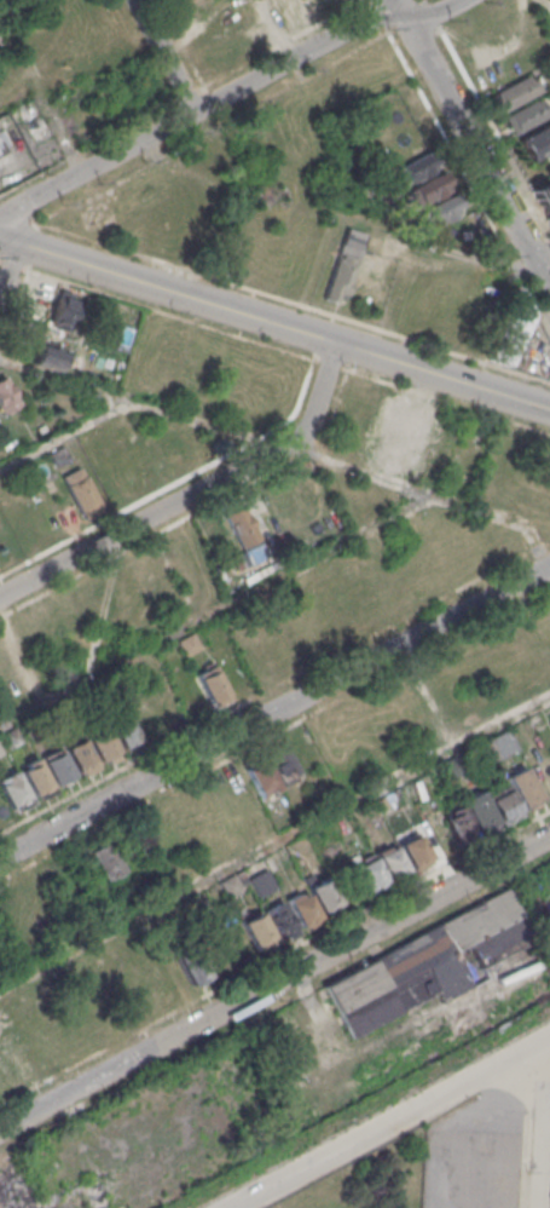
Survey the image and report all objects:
building: (169, 1)
road: (396, 1)
road: (369, 4)
road: (433, 12)
road: (543, 13)
road: (404, 15)
road: (376, 16)
road: (277, 28)
road: (162, 57)
building: (511, 91)
road: (39, 100)
road: (198, 110)
building: (523, 115)
road: (209, 127)
building: (535, 142)
building: (0, 150)
building: (0, 153)
road: (480, 157)
building: (418, 166)
road: (465, 180)
building: (428, 189)
building: (386, 194)
building: (542, 200)
building: (440, 211)
road: (337, 214)
road: (15, 215)
road: (543, 261)
road: (10, 264)
road: (7, 266)
building: (337, 277)
road: (290, 301)
building: (65, 306)
road: (15, 311)
road: (168, 313)
road: (274, 323)
building: (509, 326)
road: (1, 355)
building: (50, 356)
road: (328, 363)
road: (306, 375)
building: (6, 396)
road: (445, 401)
road: (332, 410)
road: (60, 432)
road: (284, 444)
building: (59, 455)
road: (317, 456)
building: (80, 490)
road: (193, 490)
road: (120, 510)
building: (238, 524)
road: (155, 531)
building: (323, 571)
road: (213, 610)
building: (343, 615)
building: (189, 643)
building: (210, 684)
road: (274, 709)
building: (123, 730)
building: (11, 736)
building: (103, 744)
building: (1, 749)
building: (549, 753)
building: (80, 755)
building: (282, 761)
building: (57, 765)
building: (451, 766)
building: (260, 773)
building: (35, 777)
building: (521, 786)
building: (15, 790)
building: (502, 803)
building: (479, 810)
building: (457, 823)
road: (274, 840)
building: (415, 850)
building: (108, 858)
building: (392, 862)
building: (369, 873)
building: (261, 881)
building: (230, 885)
building: (324, 895)
building: (302, 908)
building: (279, 919)
building: (257, 931)
building: (190, 963)
building: (438, 966)
road: (274, 984)
road: (389, 1121)
road: (542, 1122)
wastewater plant: (369, 1179)

